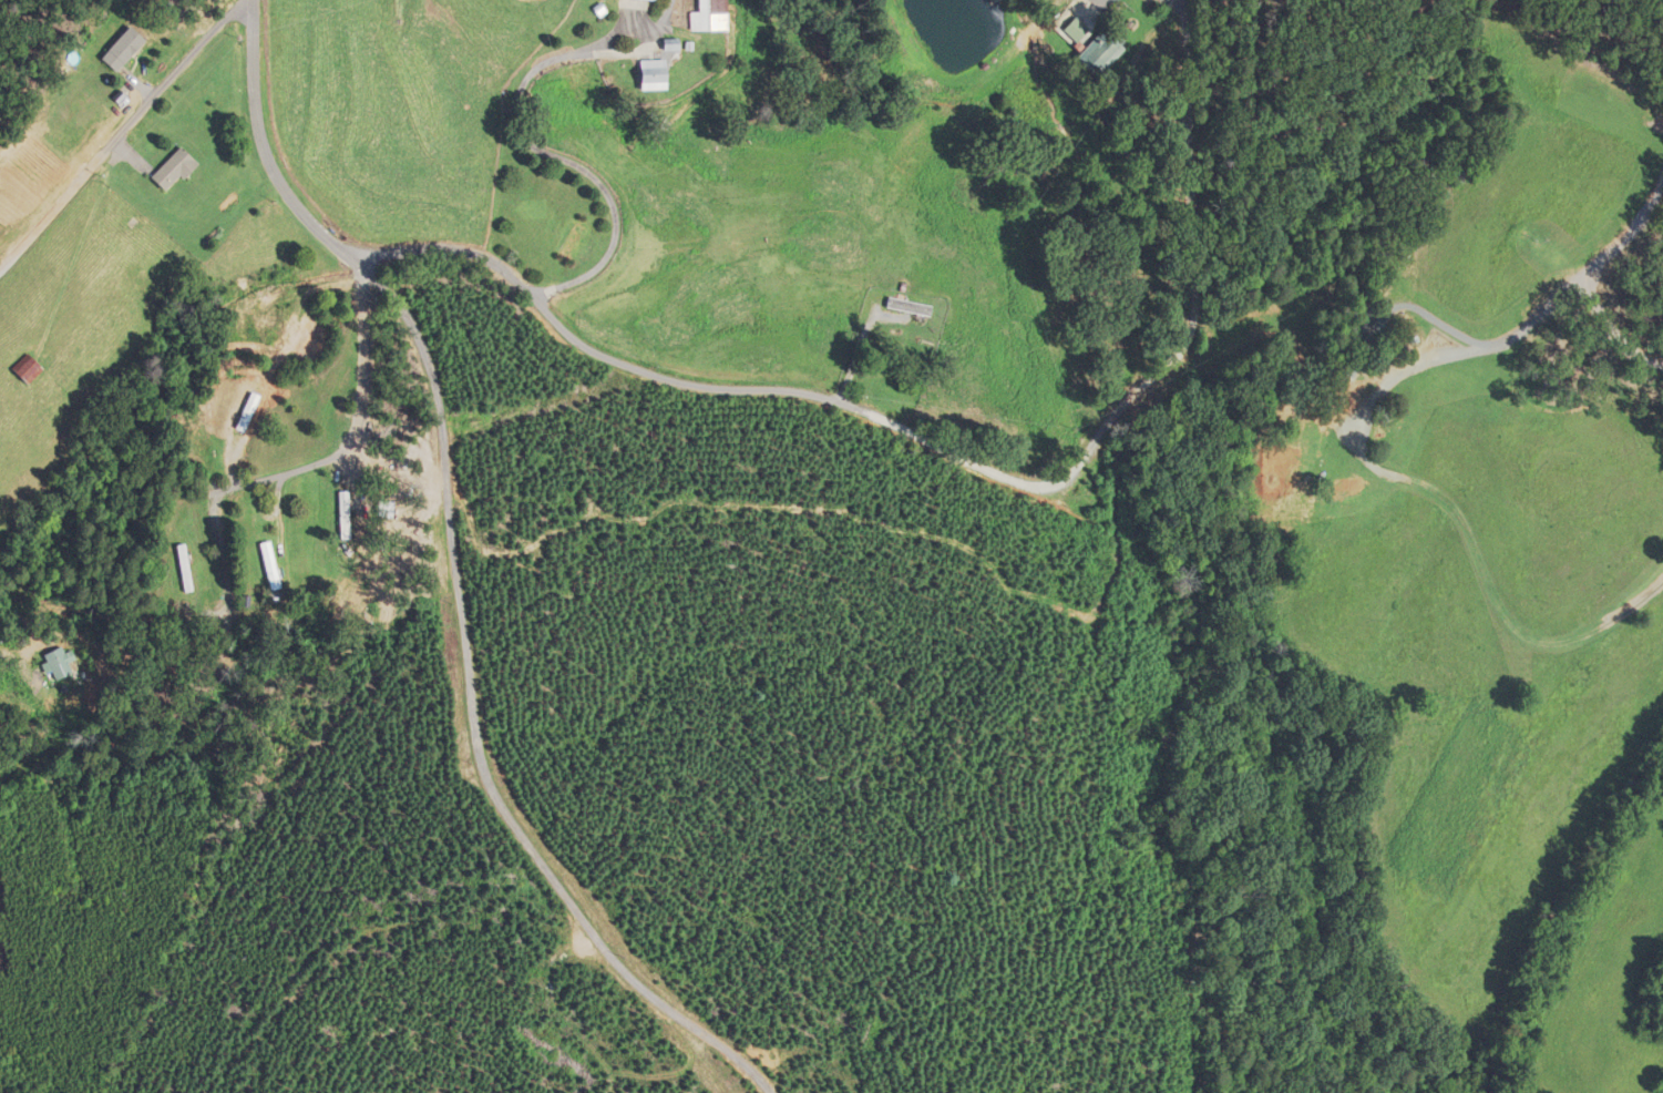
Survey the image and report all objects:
building: (710, 16)
building: (125, 51)
building: (1100, 52)
building: (650, 74)
road: (123, 132)
road: (530, 143)
building: (179, 170)
building: (584, 241)
building: (904, 307)
road: (1530, 318)
building: (1358, 355)
building: (27, 369)
building: (250, 411)
road: (362, 436)
road: (951, 453)
building: (346, 515)
building: (274, 565)
building: (188, 568)
road: (456, 572)
road: (14, 663)
building: (62, 664)

